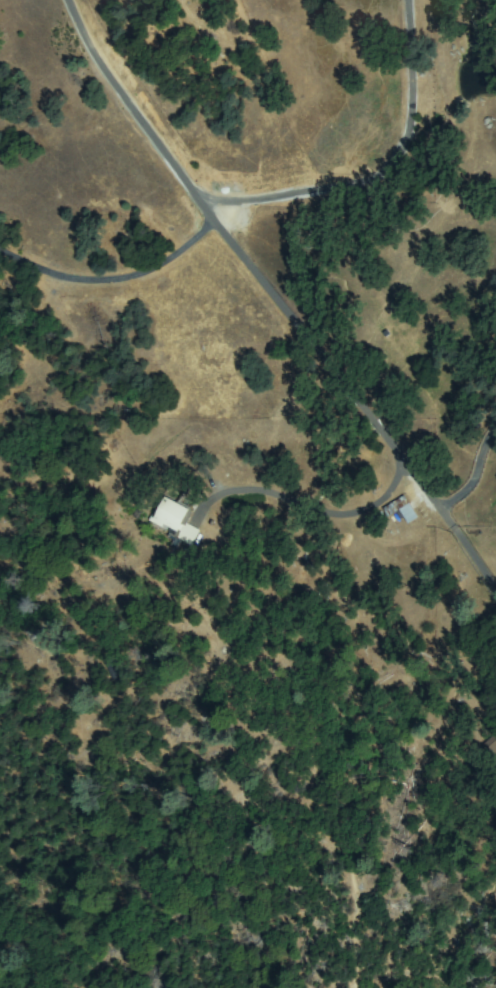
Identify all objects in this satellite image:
road: (438, 159)
road: (382, 173)
road: (92, 206)
road: (279, 299)
road: (358, 305)
road: (280, 434)
building: (402, 510)
building: (174, 520)
building: (490, 751)

